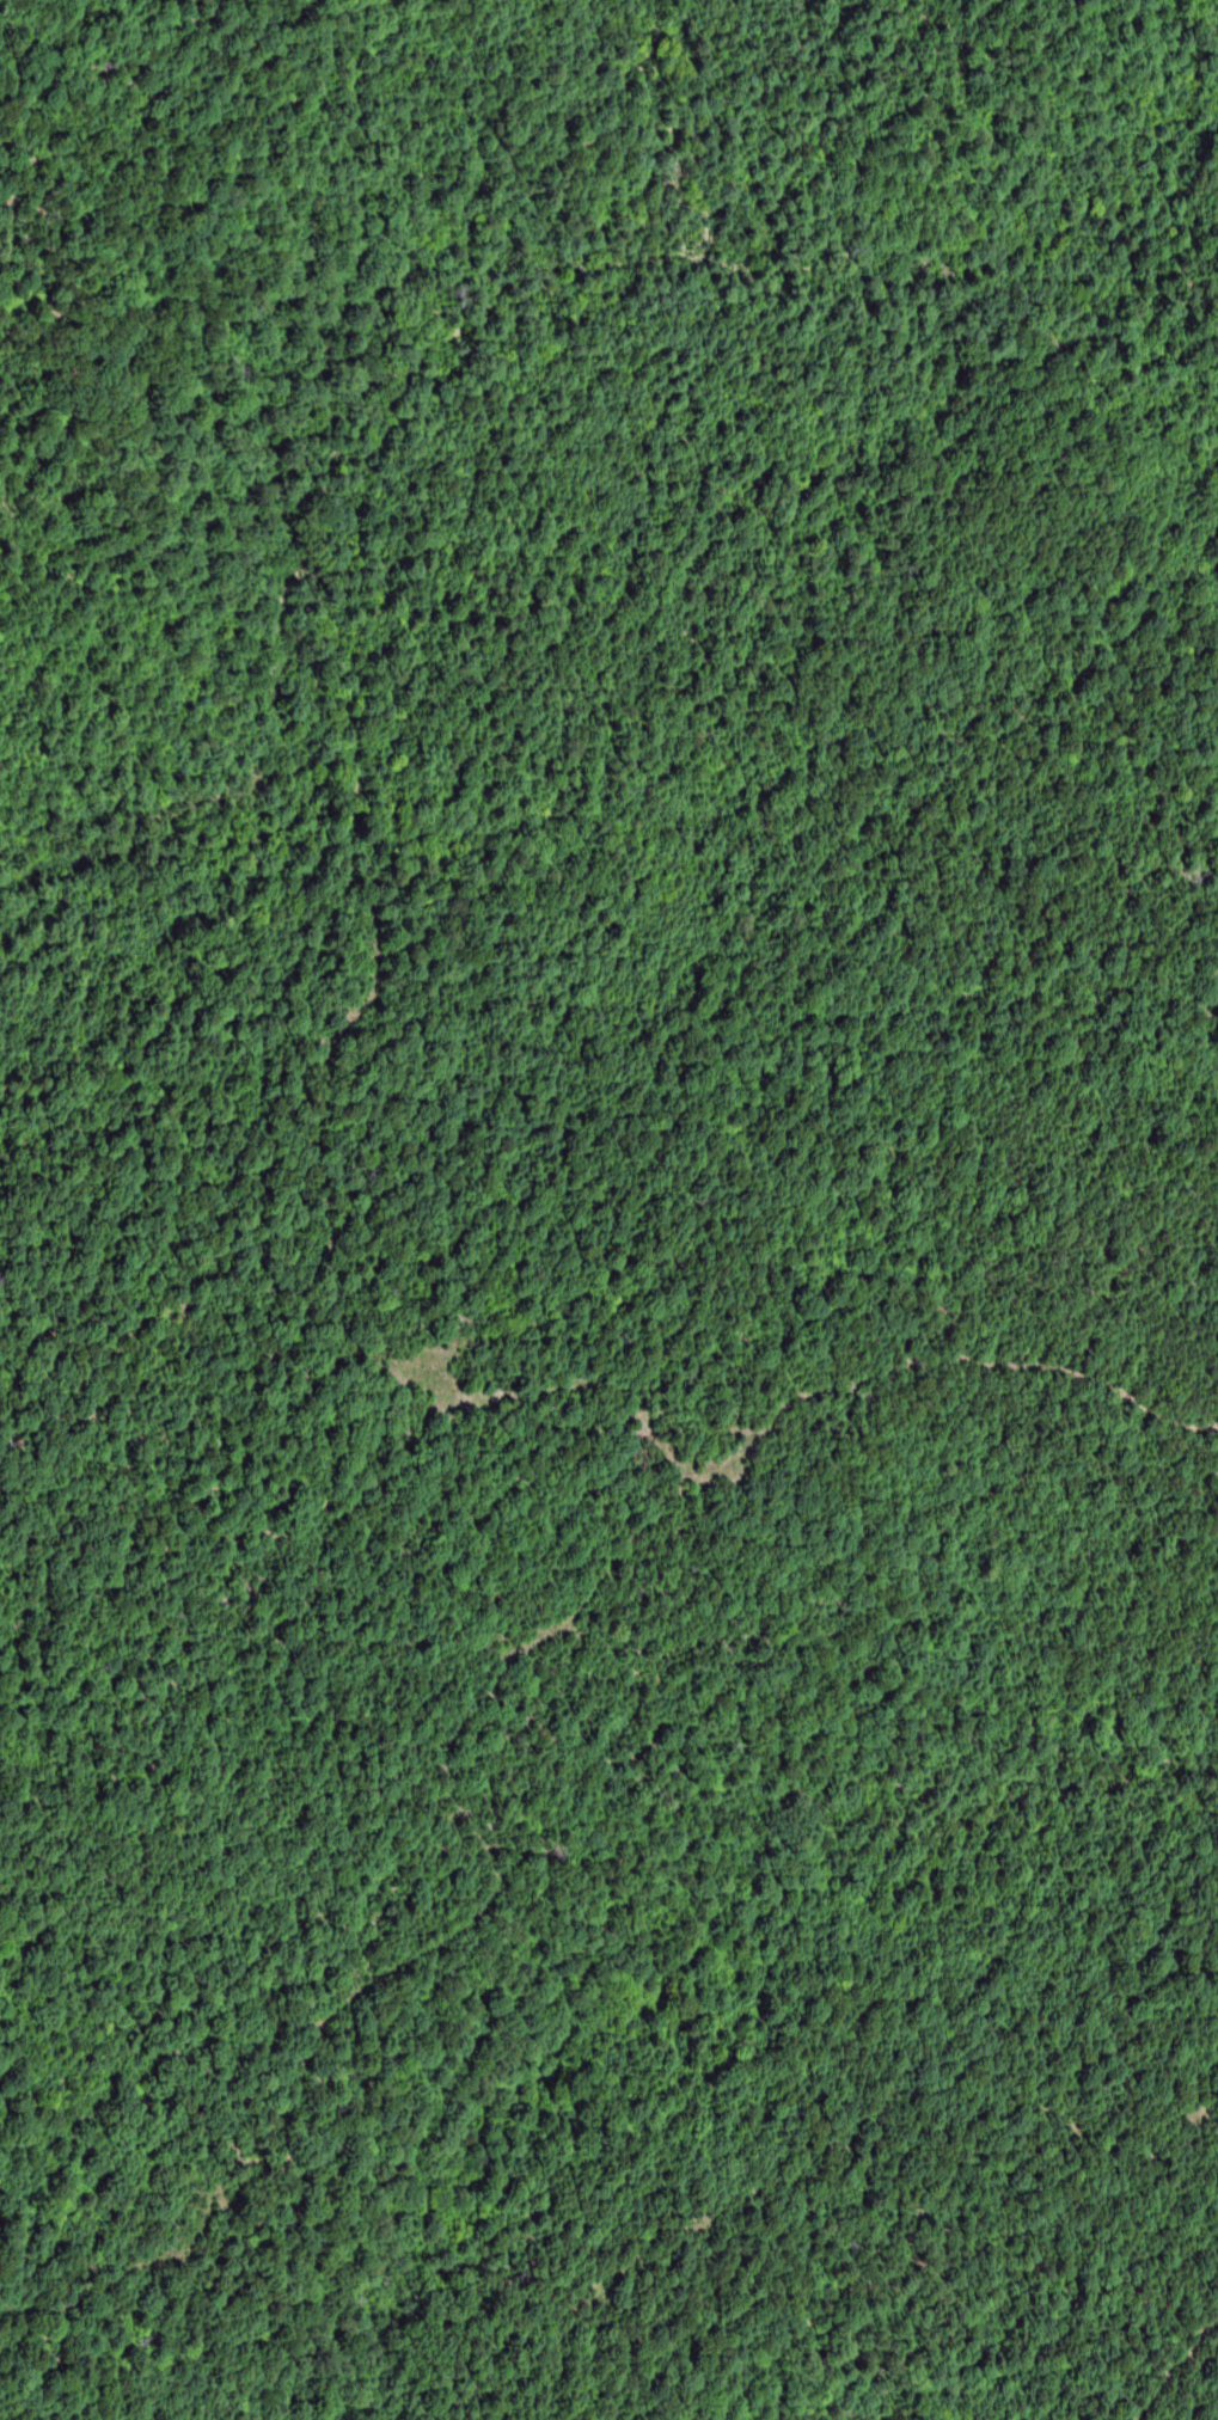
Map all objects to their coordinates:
road: (1179, 2373)

